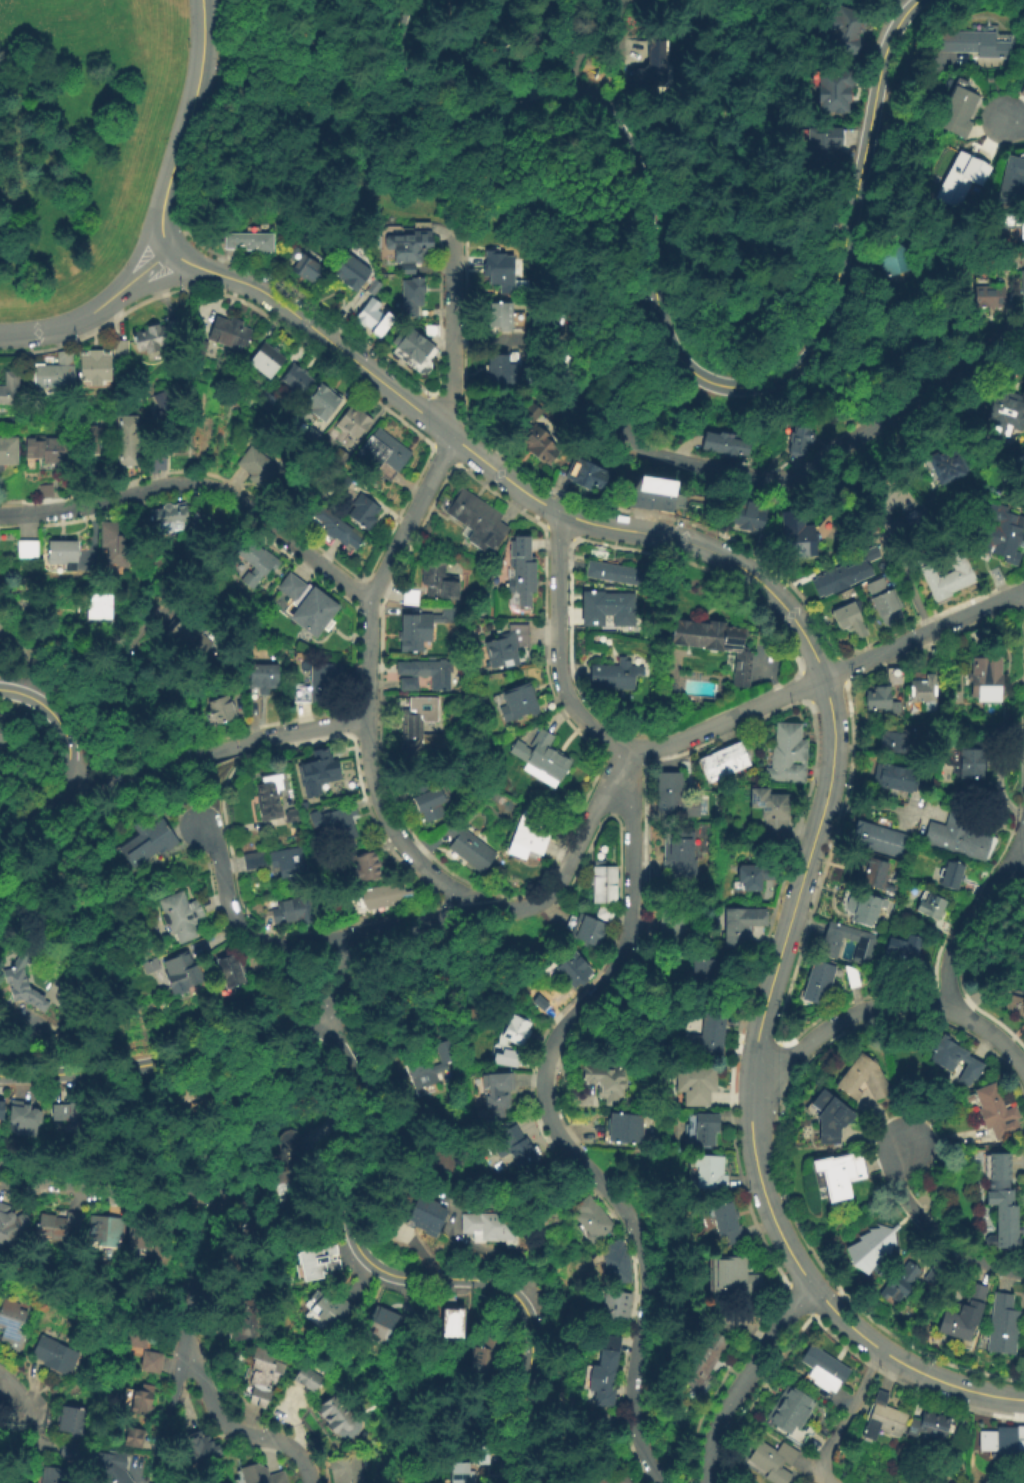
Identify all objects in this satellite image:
building: (845, 18)
road: (428, 29)
road: (396, 33)
road: (460, 40)
building: (981, 42)
road: (585, 48)
road: (406, 63)
building: (660, 66)
building: (532, 68)
road: (396, 72)
road: (343, 77)
building: (835, 82)
building: (1019, 88)
park: (285, 102)
road: (190, 108)
road: (576, 108)
road: (210, 110)
building: (965, 111)
road: (1016, 120)
park: (78, 138)
building: (823, 139)
building: (965, 177)
building: (1011, 179)
building: (1008, 220)
road: (182, 224)
road: (161, 232)
building: (250, 241)
building: (409, 243)
road: (132, 252)
building: (892, 261)
road: (187, 262)
building: (305, 264)
building: (500, 268)
road: (138, 271)
building: (351, 271)
road: (159, 280)
building: (1020, 280)
road: (836, 289)
building: (412, 292)
building: (986, 294)
road: (233, 298)
road: (313, 304)
building: (370, 315)
building: (503, 316)
road: (94, 322)
road: (59, 325)
building: (432, 329)
building: (230, 331)
building: (154, 334)
road: (531, 340)
building: (576, 340)
building: (118, 349)
building: (413, 350)
building: (267, 358)
road: (184, 360)
building: (94, 367)
building: (558, 368)
building: (506, 370)
building: (54, 372)
building: (295, 379)
building: (10, 388)
building: (268, 400)
building: (323, 402)
building: (167, 406)
road: (446, 406)
building: (530, 410)
building: (1002, 414)
building: (352, 420)
building: (796, 437)
building: (130, 438)
building: (560, 439)
building: (93, 440)
building: (722, 442)
building: (540, 443)
building: (50, 447)
building: (160, 450)
building: (384, 451)
building: (10, 452)
road: (445, 454)
building: (945, 463)
building: (257, 465)
building: (586, 473)
building: (1019, 478)
road: (757, 479)
road: (201, 484)
building: (653, 492)
road: (500, 497)
building: (364, 508)
building: (747, 514)
building: (169, 517)
road: (665, 517)
building: (477, 519)
building: (208, 521)
building: (337, 525)
road: (560, 533)
building: (1002, 535)
building: (796, 536)
building: (116, 543)
building: (29, 547)
building: (66, 552)
building: (871, 554)
building: (254, 561)
building: (521, 569)
road: (708, 571)
building: (615, 572)
building: (947, 574)
building: (839, 577)
building: (438, 578)
road: (377, 585)
road: (909, 585)
building: (884, 600)
building: (309, 605)
building: (604, 607)
building: (98, 610)
building: (850, 620)
building: (423, 623)
building: (191, 639)
building: (716, 642)
building: (505, 644)
road: (557, 645)
building: (934, 654)
road: (840, 662)
building: (426, 669)
building: (614, 672)
building: (263, 675)
road: (826, 676)
building: (984, 677)
building: (316, 680)
road: (807, 686)
building: (922, 690)
building: (877, 699)
building: (514, 700)
building: (222, 707)
road: (62, 711)
road: (831, 714)
building: (420, 721)
road: (313, 727)
building: (4, 733)
building: (893, 741)
building: (785, 754)
building: (543, 758)
building: (722, 760)
building: (965, 762)
road: (71, 768)
building: (317, 768)
road: (160, 770)
building: (894, 776)
road: (224, 786)
building: (267, 796)
building: (428, 799)
building: (672, 799)
building: (770, 810)
building: (292, 812)
building: (340, 819)
building: (700, 822)
road: (586, 829)
building: (531, 833)
building: (146, 837)
building: (881, 838)
building: (956, 838)
building: (470, 846)
building: (681, 856)
building: (254, 858)
building: (291, 862)
building: (364, 864)
building: (876, 872)
building: (752, 877)
building: (950, 877)
building: (604, 880)
building: (386, 892)
road: (226, 898)
building: (862, 906)
building: (929, 906)
building: (291, 908)
road: (508, 908)
building: (605, 909)
building: (182, 912)
road: (418, 921)
building: (671, 925)
building: (741, 926)
road: (971, 926)
building: (586, 927)
road: (318, 941)
building: (902, 947)
building: (863, 948)
building: (574, 968)
building: (229, 970)
building: (293, 971)
building: (184, 974)
building: (702, 975)
building: (823, 979)
road: (340, 983)
building: (26, 989)
road: (750, 995)
building: (538, 1002)
building: (1014, 1006)
road: (888, 1007)
building: (516, 1029)
building: (706, 1033)
road: (37, 1045)
building: (508, 1054)
building: (954, 1056)
building: (422, 1063)
building: (861, 1078)
road: (780, 1081)
building: (606, 1082)
building: (695, 1084)
building: (495, 1090)
building: (191, 1099)
building: (996, 1111)
building: (2, 1112)
building: (827, 1118)
road: (550, 1120)
building: (27, 1122)
building: (67, 1122)
building: (624, 1131)
building: (704, 1131)
building: (307, 1137)
road: (243, 1138)
building: (515, 1145)
road: (366, 1148)
building: (708, 1174)
building: (839, 1175)
road: (104, 1195)
building: (271, 1203)
building: (1001, 1203)
building: (429, 1208)
building: (592, 1217)
building: (725, 1225)
building: (490, 1228)
building: (13, 1229)
building: (60, 1230)
road: (934, 1232)
building: (104, 1233)
building: (149, 1241)
building: (247, 1246)
building: (872, 1247)
building: (322, 1263)
road: (194, 1265)
building: (619, 1266)
building: (725, 1280)
building: (933, 1280)
road: (792, 1287)
road: (841, 1288)
building: (892, 1293)
building: (612, 1304)
building: (323, 1310)
building: (962, 1315)
building: (450, 1320)
building: (1003, 1323)
building: (12, 1326)
building: (385, 1327)
building: (227, 1328)
road: (769, 1341)
building: (139, 1350)
building: (487, 1351)
building: (53, 1357)
building: (699, 1361)
road: (876, 1367)
building: (602, 1369)
building: (823, 1370)
building: (261, 1376)
building: (306, 1380)
road: (999, 1395)
building: (141, 1398)
road: (948, 1403)
building: (467, 1413)
building: (337, 1415)
building: (789, 1416)
road: (847, 1416)
building: (882, 1417)
road: (165, 1419)
road: (27, 1420)
building: (70, 1425)
building: (931, 1426)
road: (235, 1429)
building: (131, 1438)
building: (999, 1440)
road: (712, 1441)
building: (66, 1446)
building: (197, 1449)
building: (484, 1457)
building: (771, 1458)
building: (109, 1467)
building: (344, 1470)
building: (50, 1474)
building: (460, 1474)
building: (257, 1475)
building: (615, 1477)

